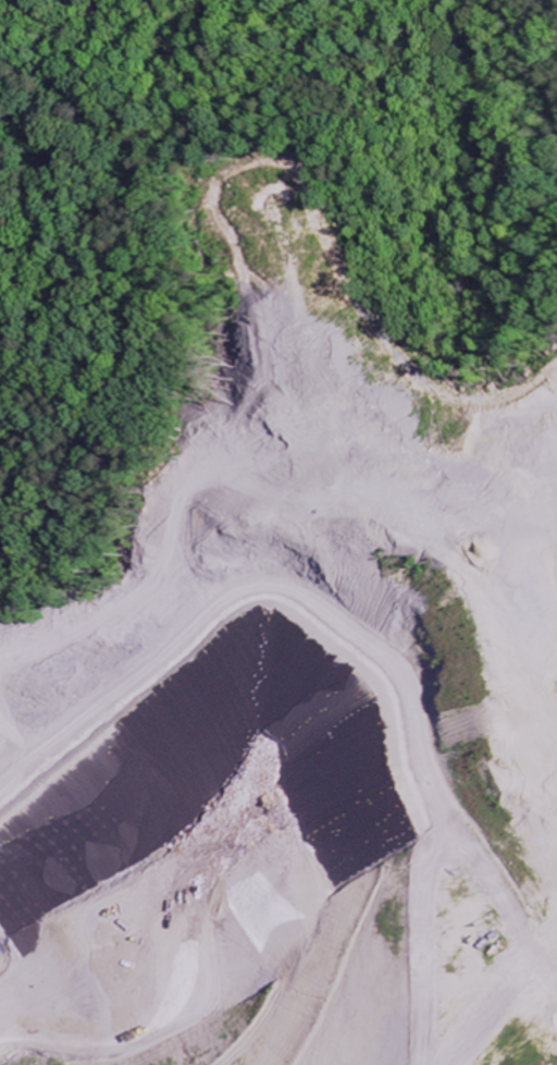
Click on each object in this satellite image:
road: (333, 633)
landfill: (300, 720)

